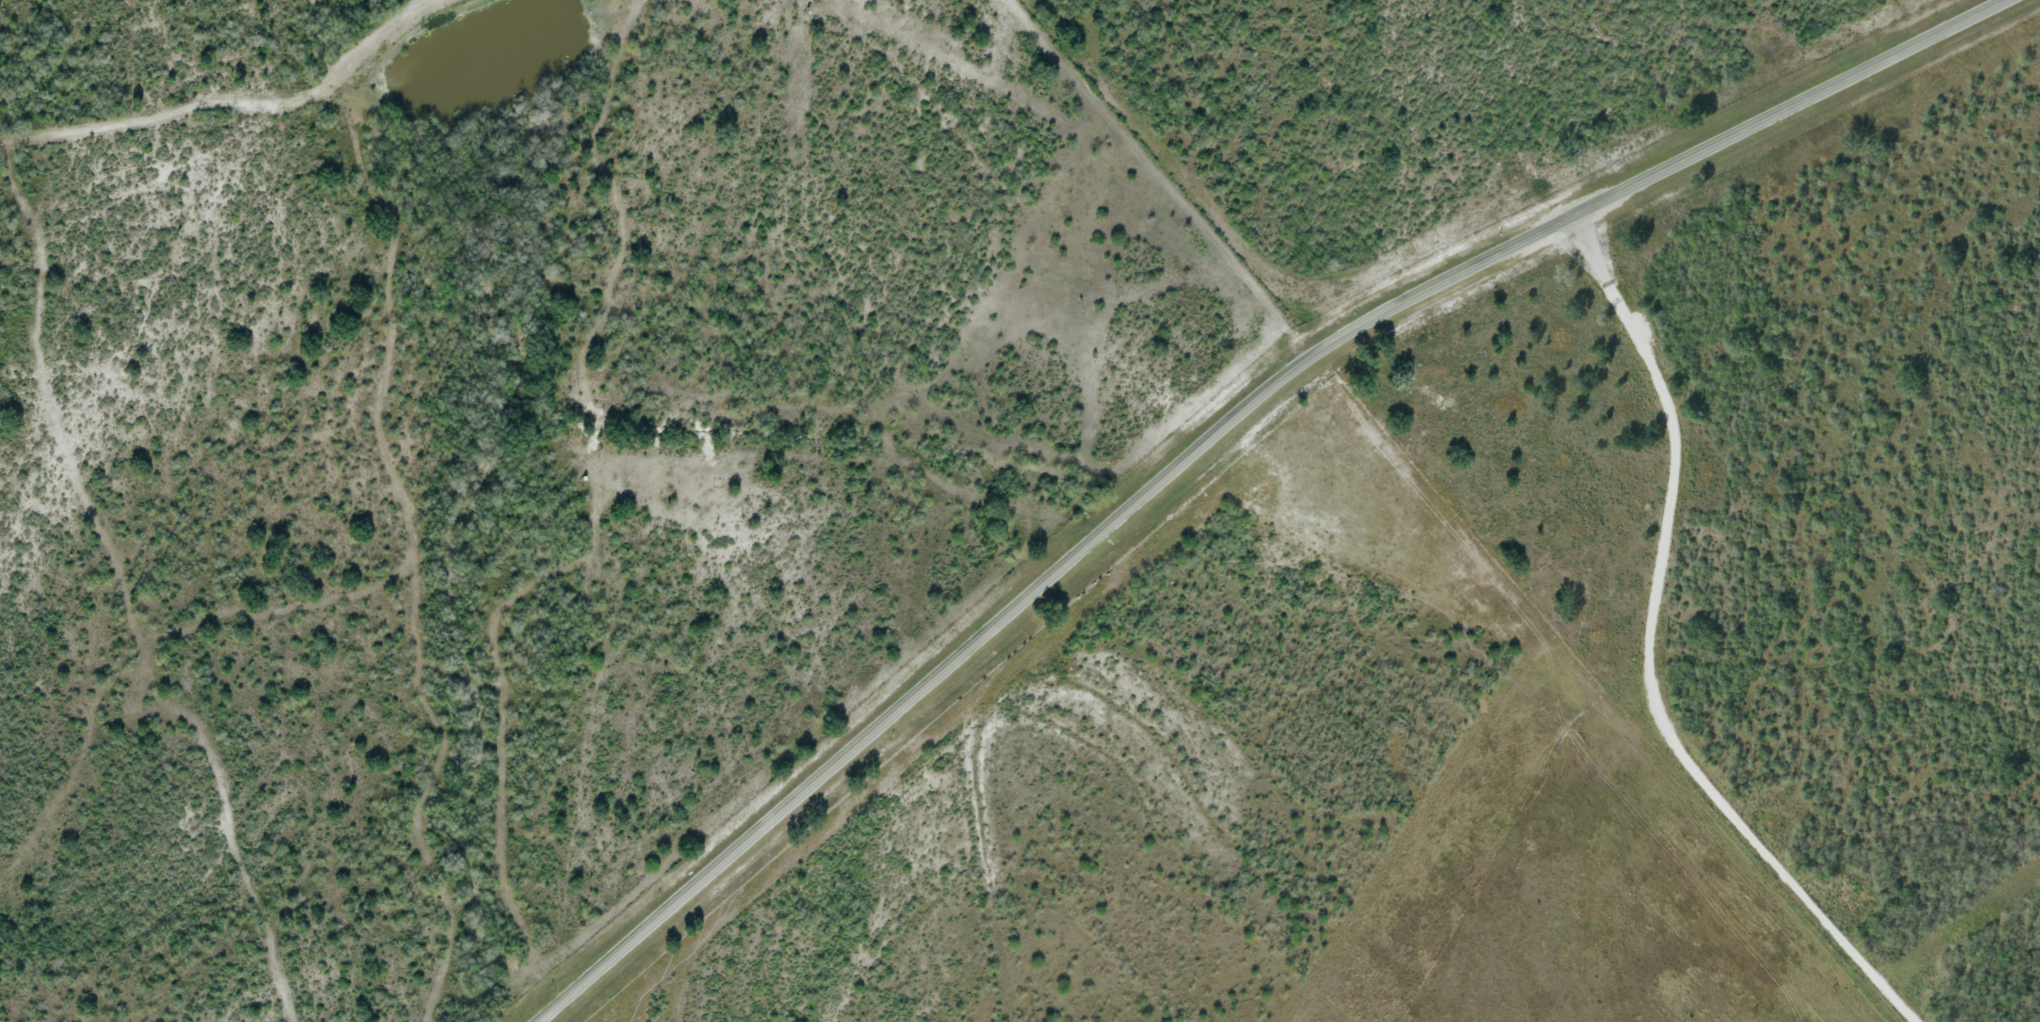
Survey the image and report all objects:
road: (1153, 177)
road: (1214, 427)
road: (1653, 655)

